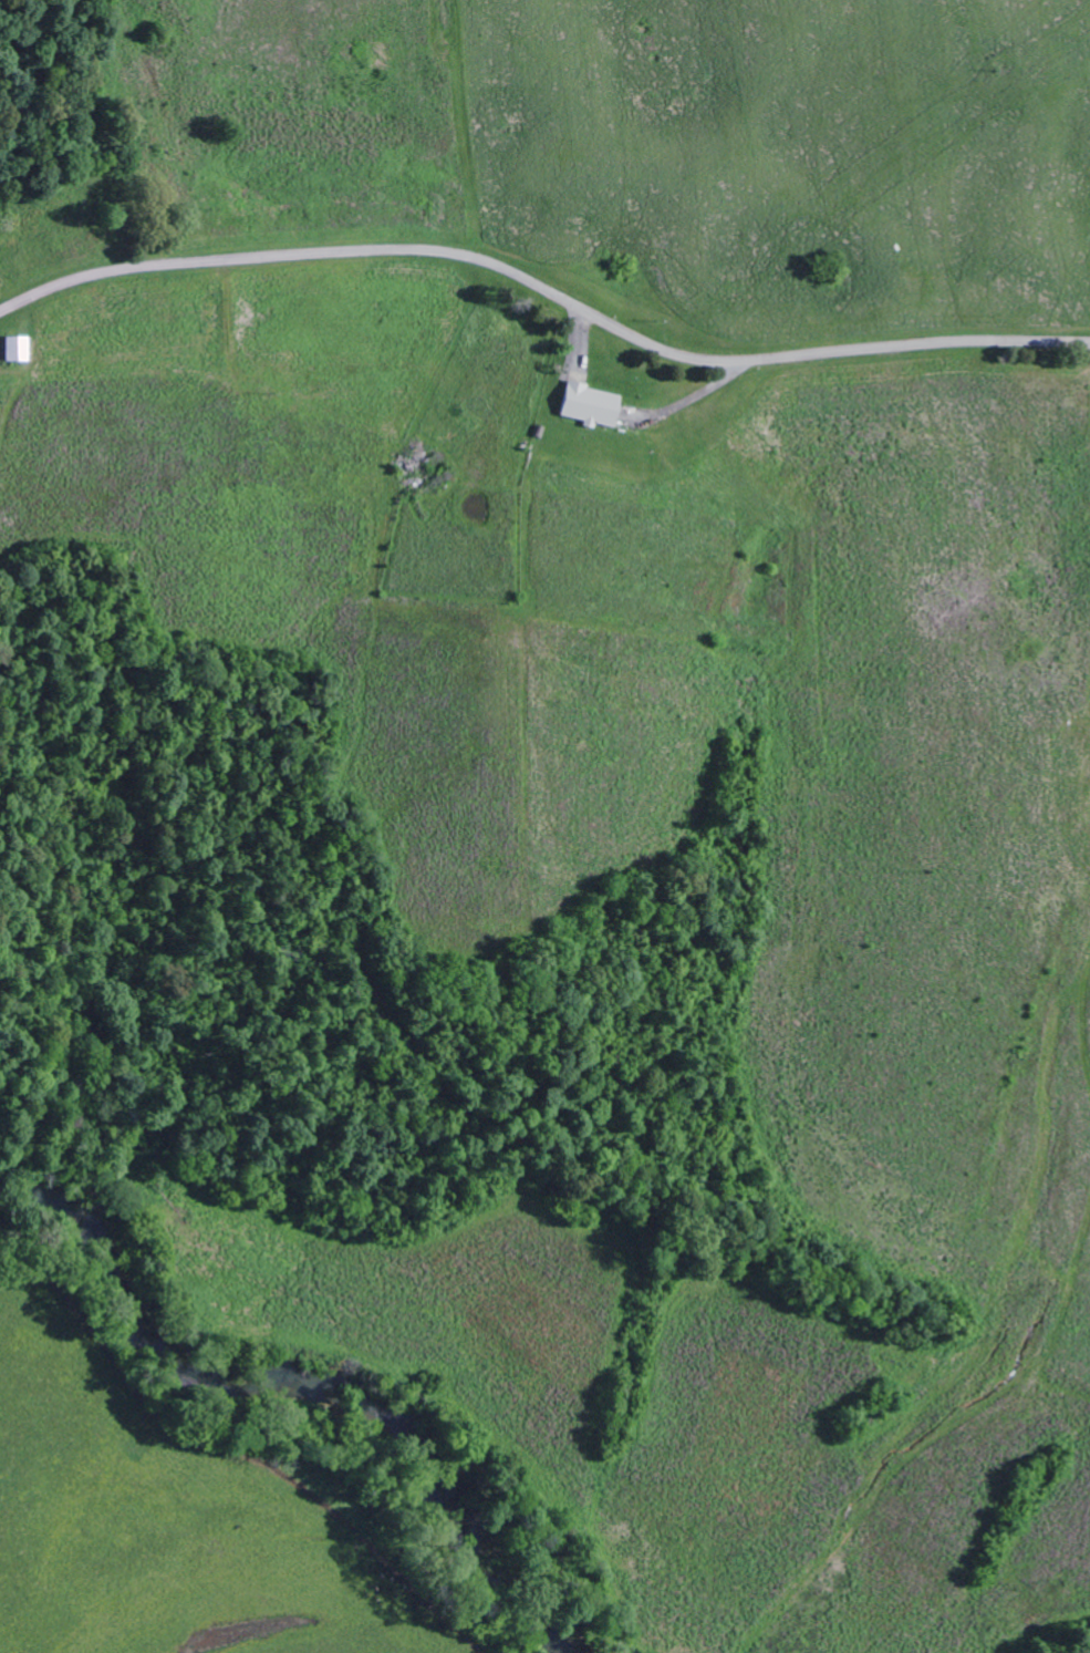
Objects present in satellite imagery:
road: (544, 289)
building: (9, 350)
building: (586, 406)

